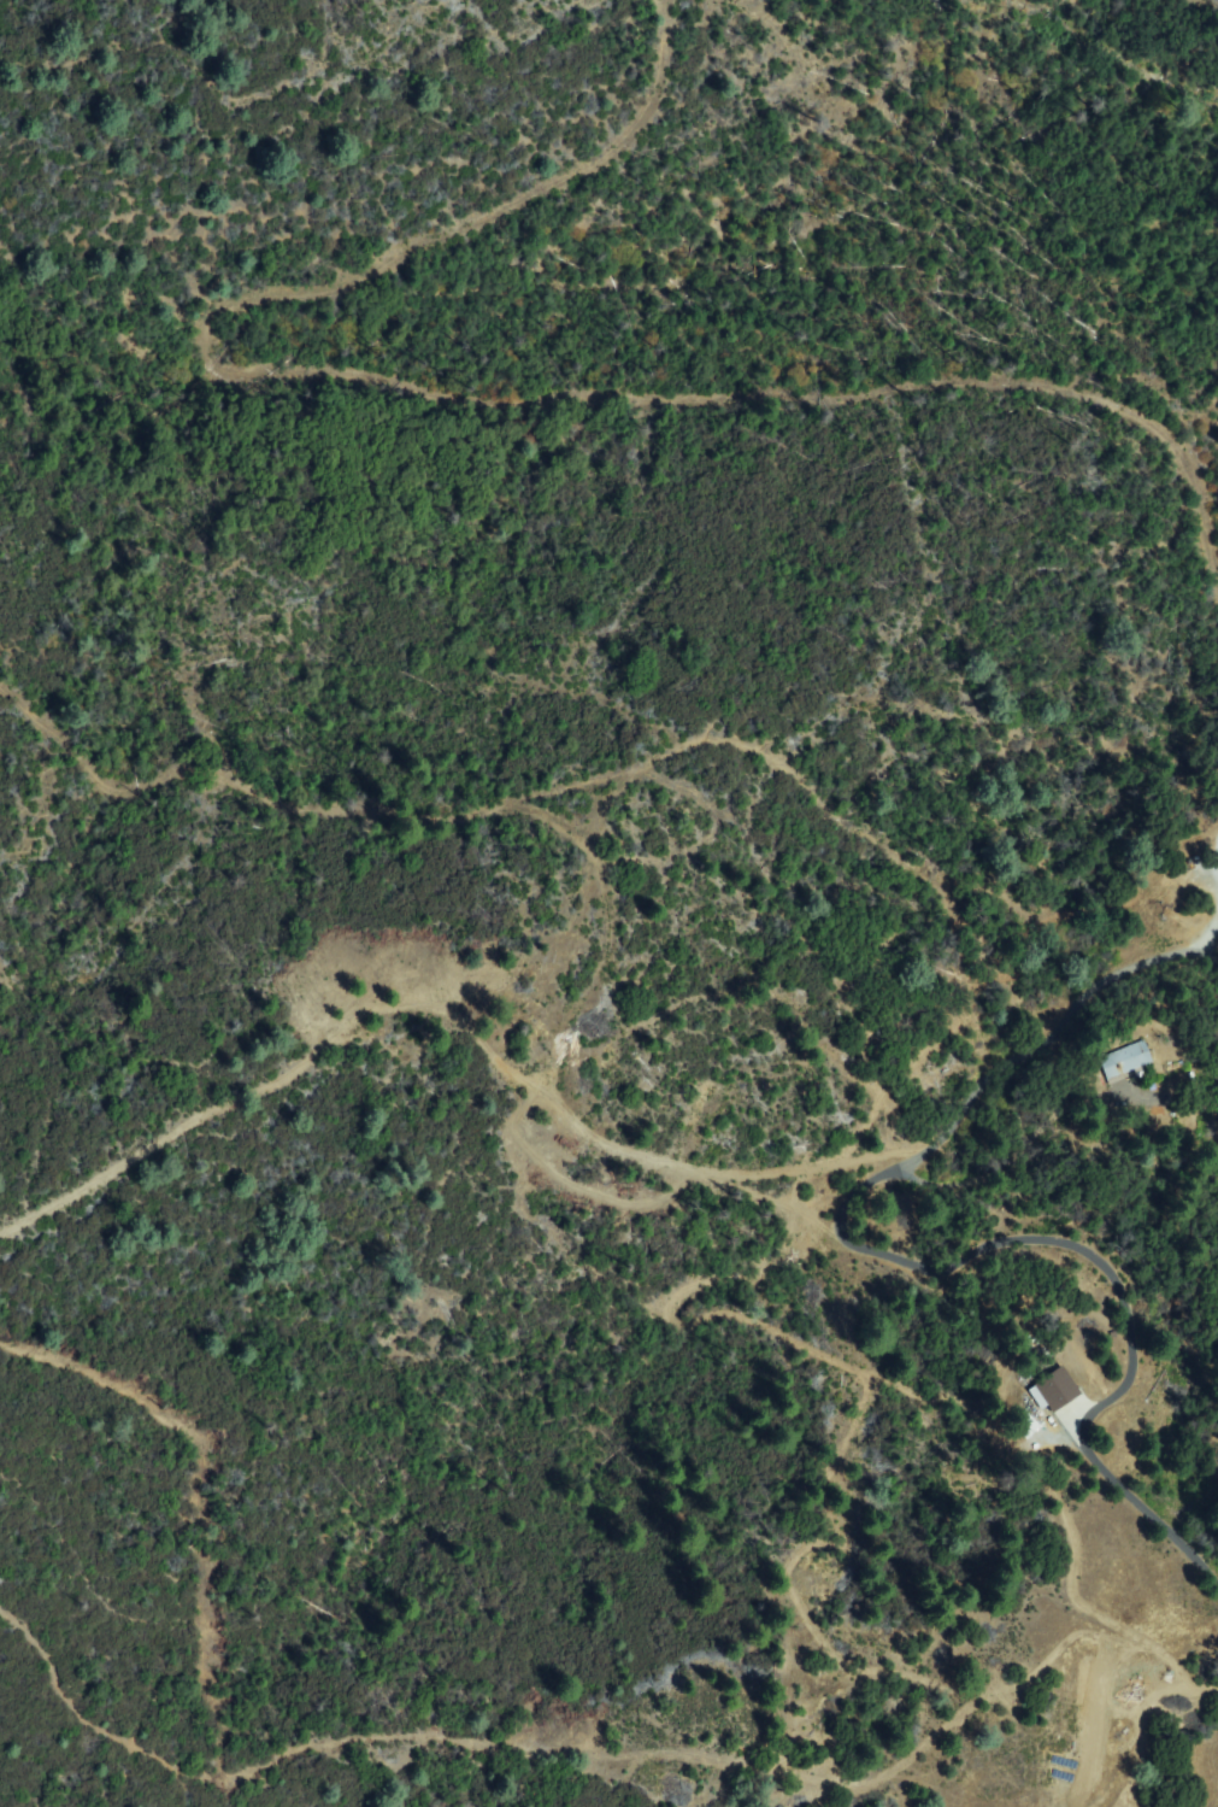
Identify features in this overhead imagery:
building: (1124, 1061)
road: (853, 1243)
building: (1055, 1392)

